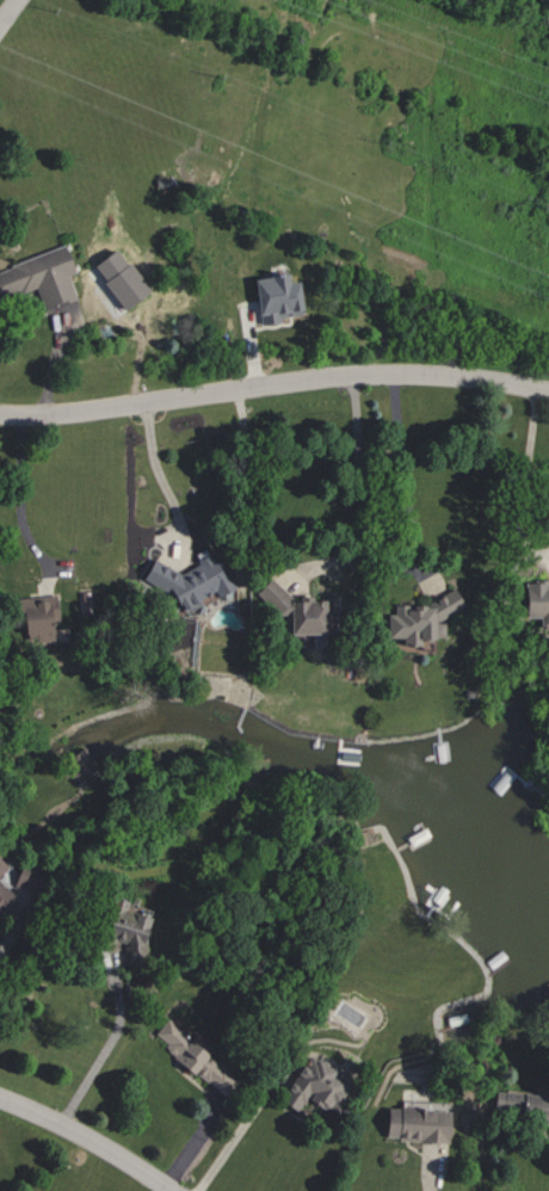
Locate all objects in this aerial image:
road: (8, 12)
building: (37, 277)
building: (272, 298)
road: (273, 382)
road: (401, 473)
road: (159, 475)
road: (525, 480)
road: (362, 487)
road: (18, 493)
building: (186, 581)
building: (536, 601)
building: (290, 610)
building: (33, 617)
building: (417, 619)
building: (80, 764)
building: (0, 862)
building: (24, 874)
building: (2, 893)
building: (123, 924)
road: (11, 934)
road: (105, 1043)
building: (189, 1053)
building: (308, 1084)
building: (519, 1104)
building: (414, 1123)
road: (88, 1138)
road: (228, 1142)
road: (425, 1171)

